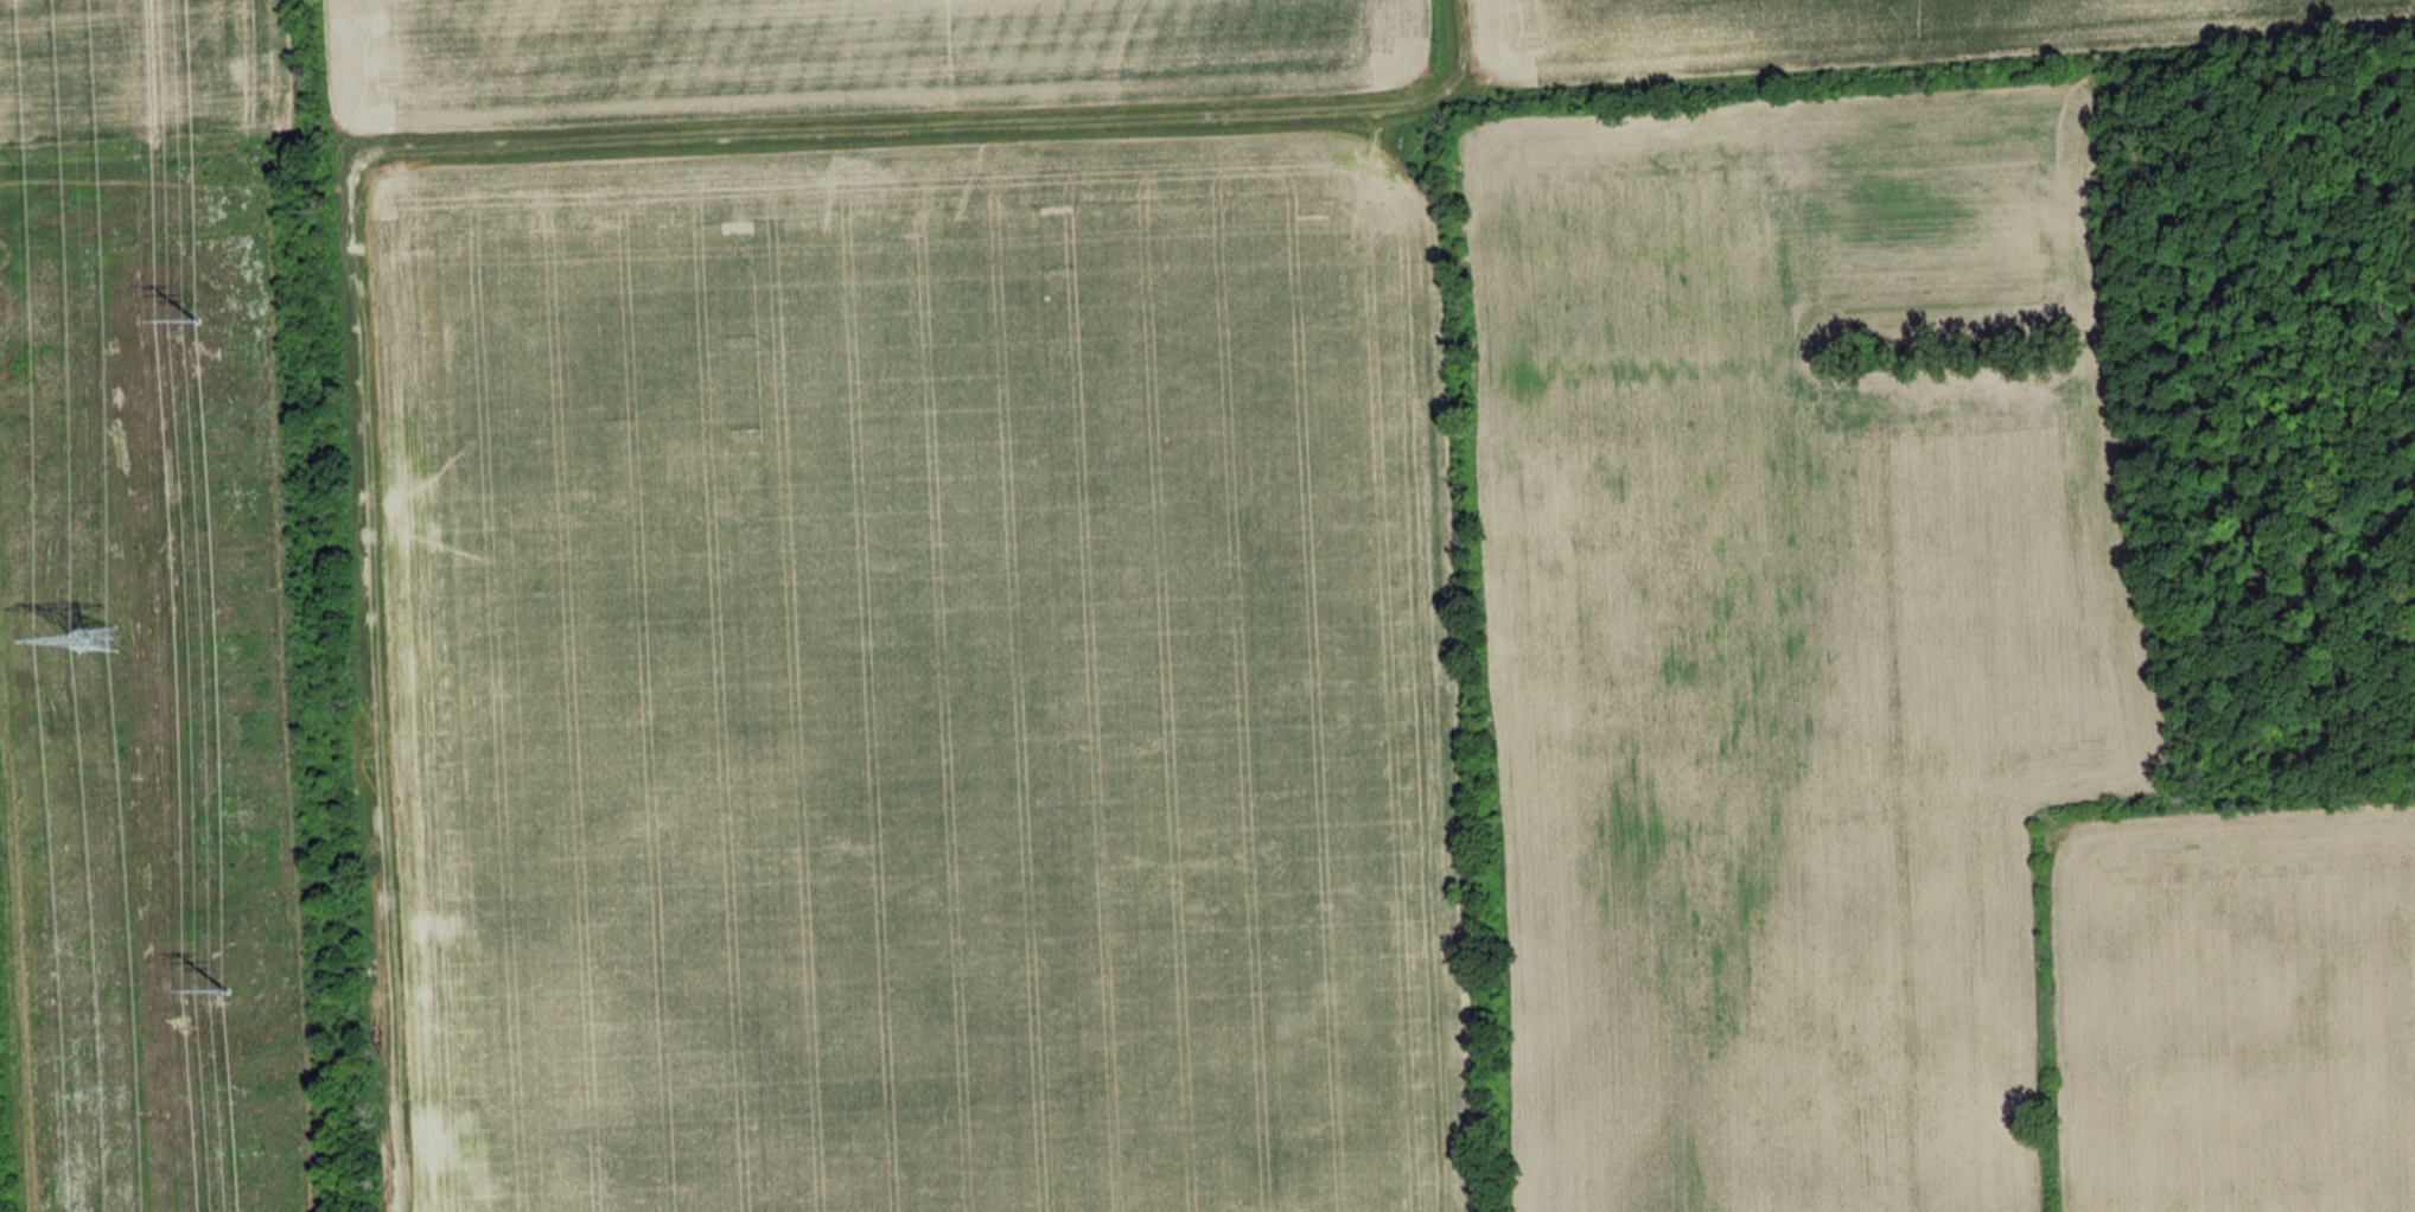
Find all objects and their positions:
power tower: (206, 319)
power tower: (84, 656)
power tower: (240, 978)

